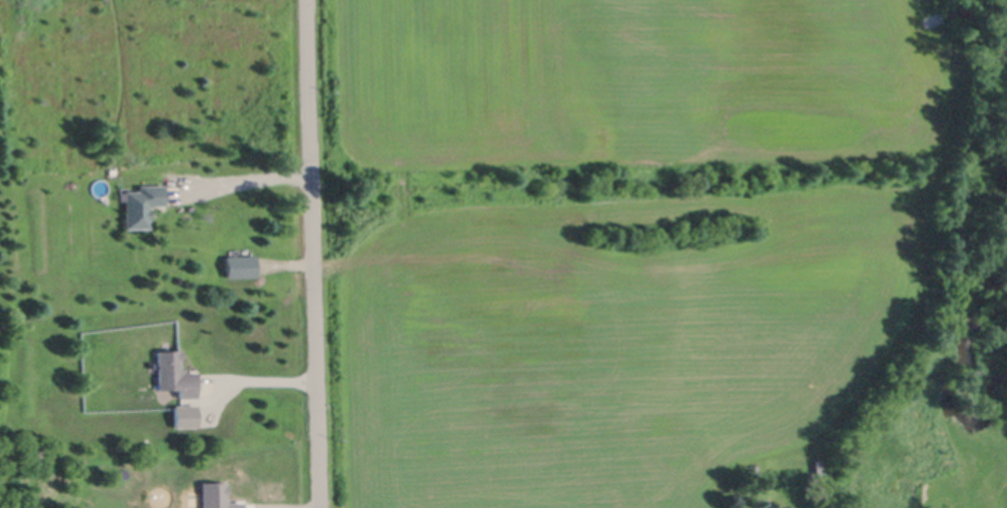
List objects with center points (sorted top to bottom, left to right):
road: (245, 179)
building: (143, 203)
road: (311, 254)
building: (239, 267)
river: (967, 272)
building: (176, 372)
road: (248, 379)
building: (183, 416)
building: (46, 423)
building: (132, 436)
building: (821, 464)
building: (214, 496)

